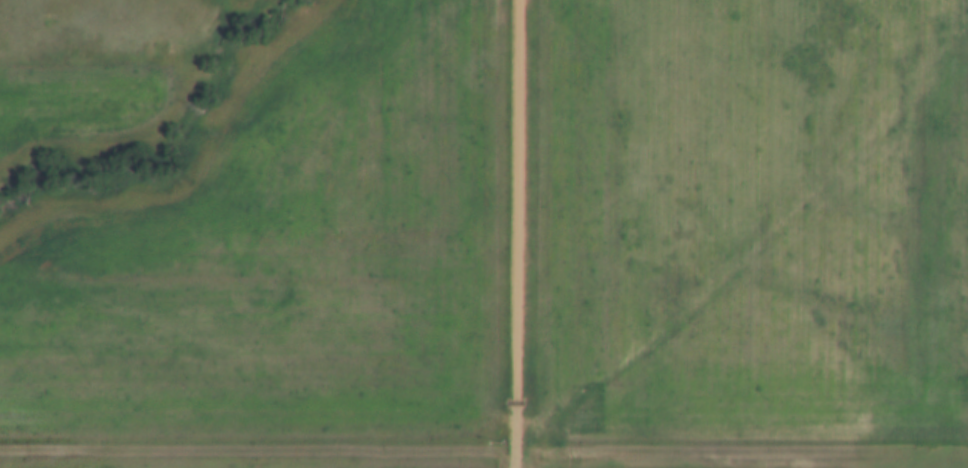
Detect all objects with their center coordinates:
road: (517, 234)

